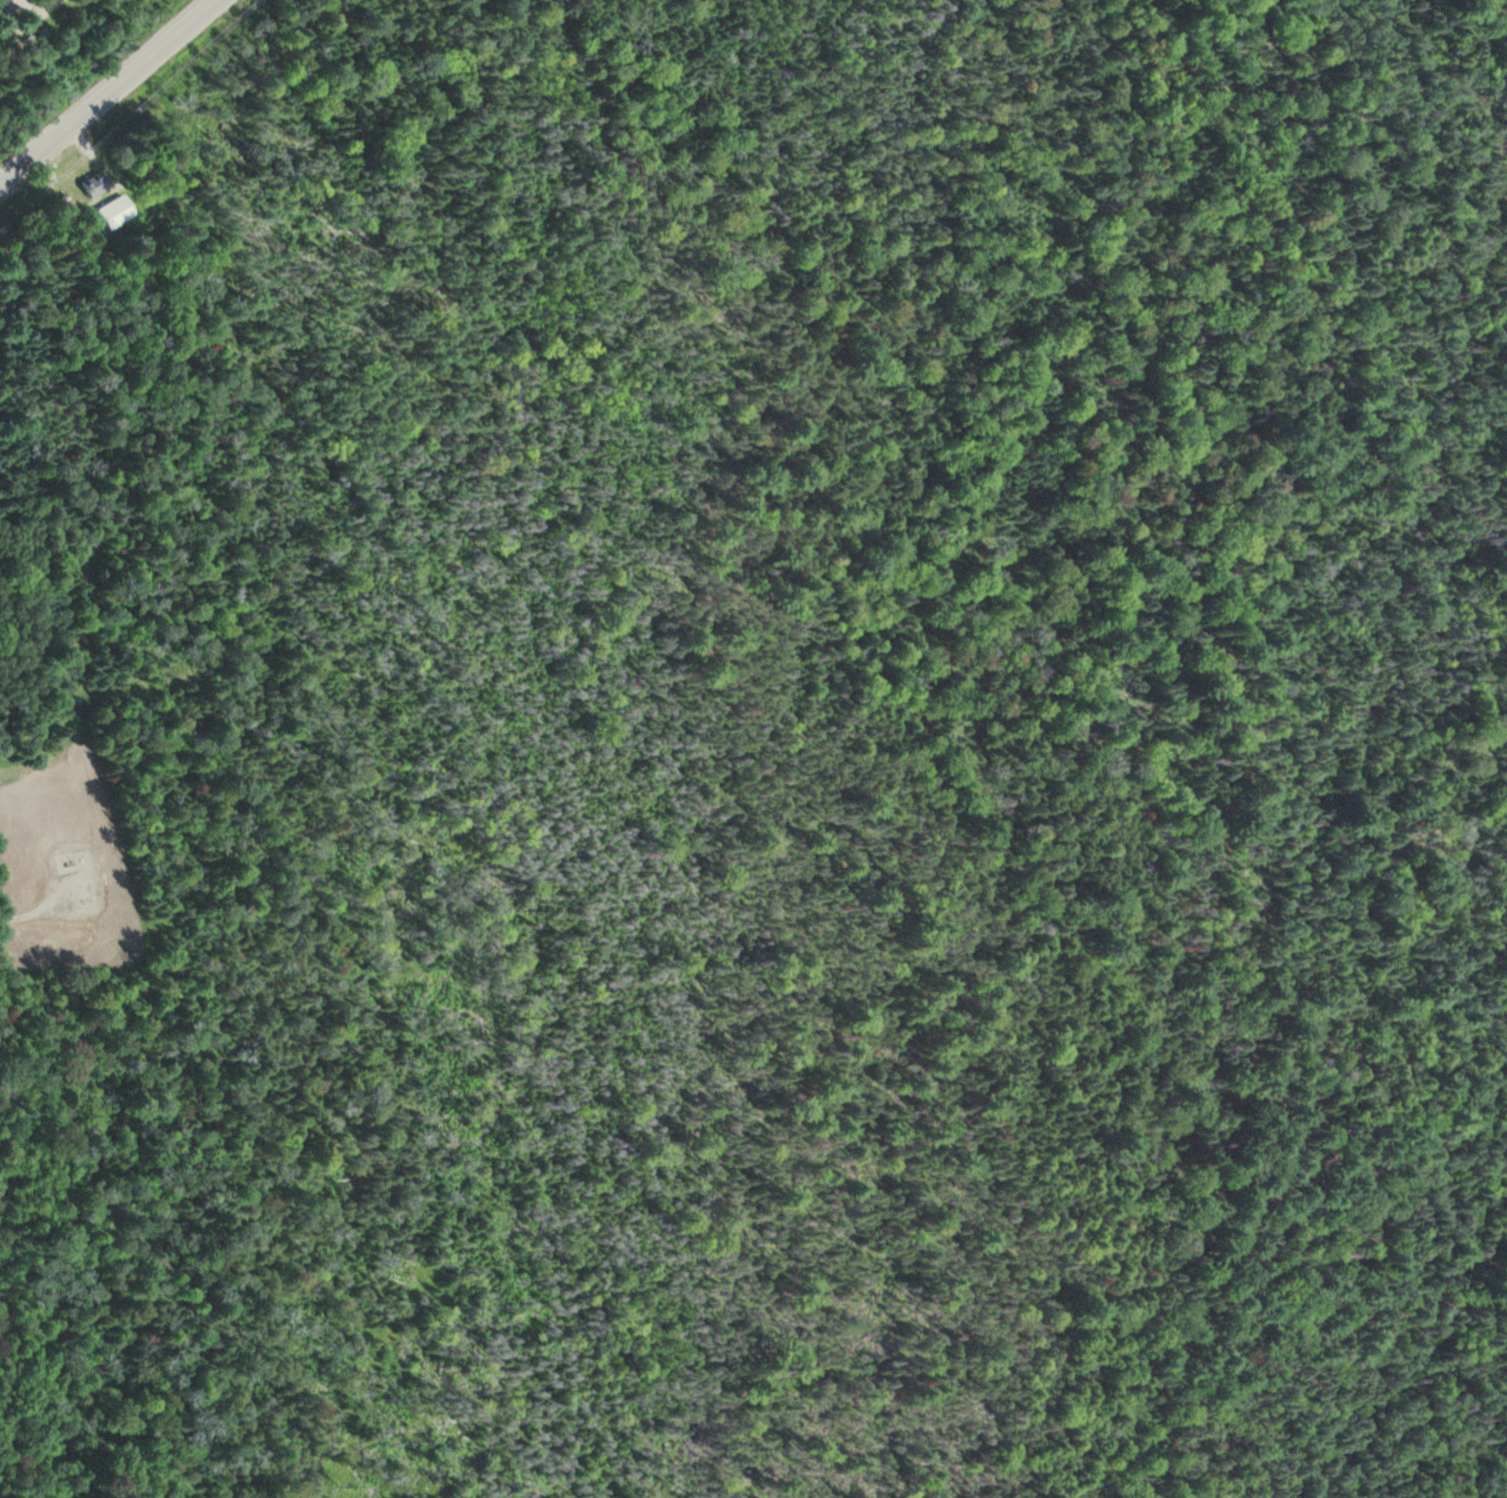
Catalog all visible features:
road: (58, 42)
road: (107, 94)
building: (90, 186)

